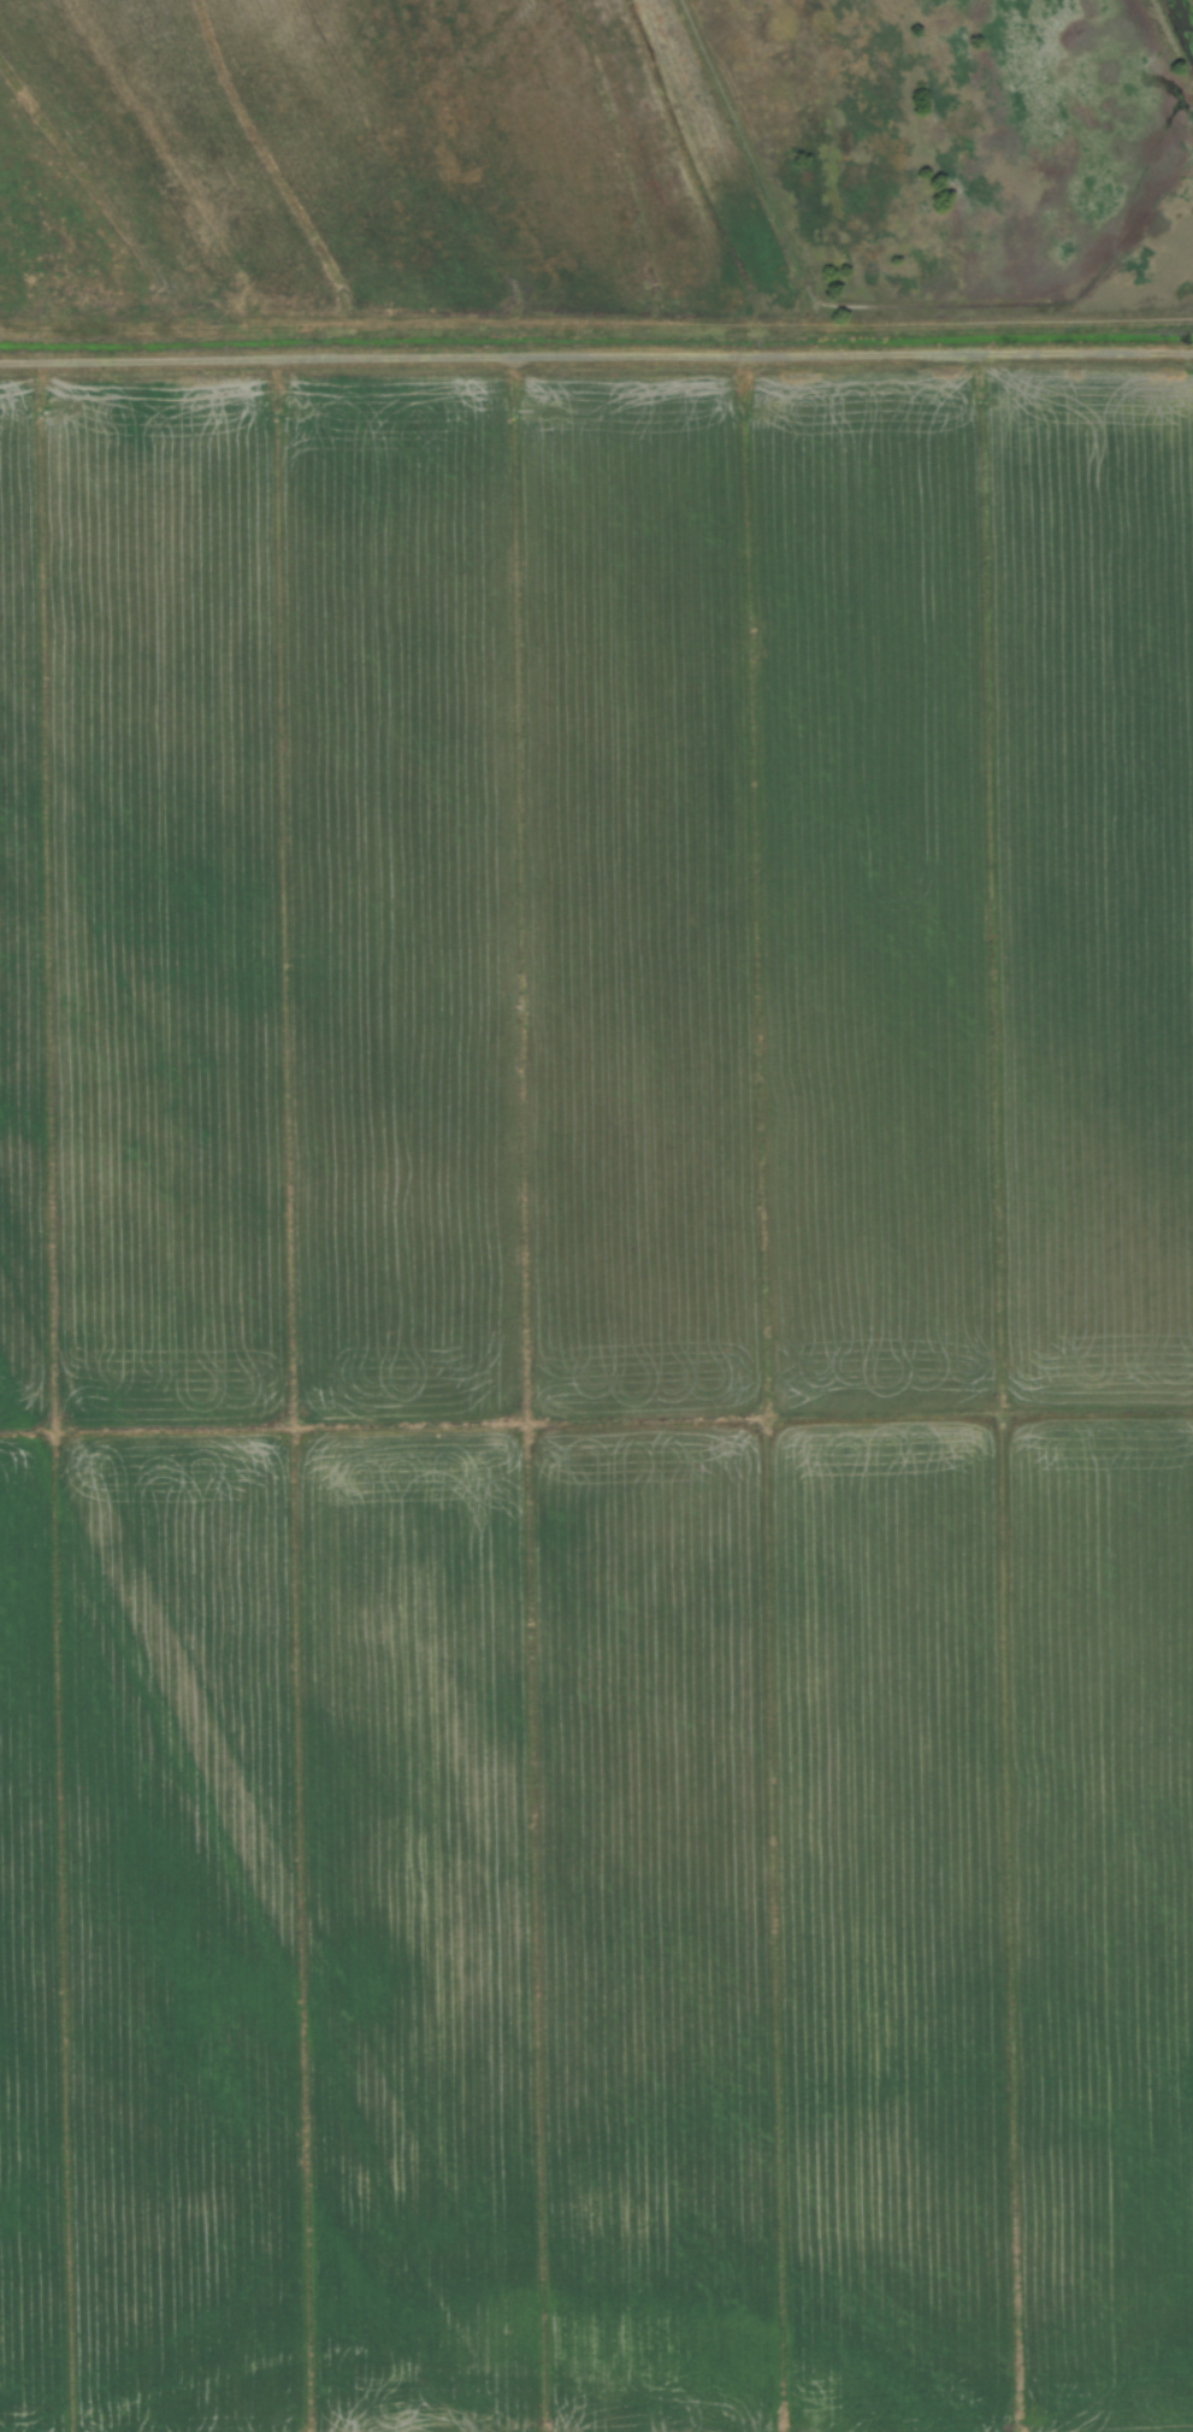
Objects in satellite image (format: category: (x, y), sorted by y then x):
crop: (1173, 43)
crop: (575, 1276)

